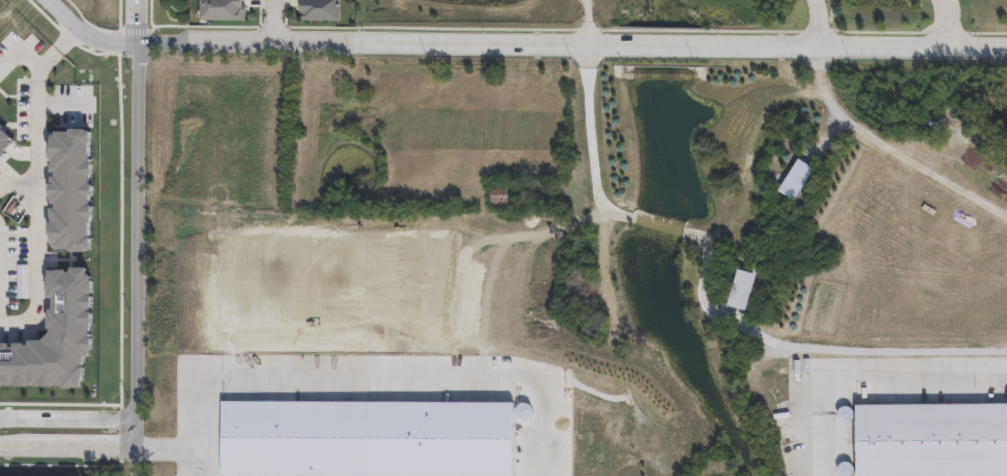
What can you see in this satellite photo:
building: (320, 11)
building: (221, 12)
road: (136, 20)
road: (272, 20)
road: (817, 22)
road: (947, 23)
road: (83, 33)
road: (65, 38)
road: (571, 43)
road: (19, 51)
road: (47, 57)
building: (4, 142)
road: (888, 149)
road: (592, 180)
road: (17, 186)
building: (67, 191)
building: (499, 195)
road: (35, 207)
road: (134, 258)
building: (69, 307)
road: (240, 377)
road: (489, 378)
road: (861, 382)
road: (59, 404)
road: (66, 418)
building: (330, 437)
building: (931, 440)
road: (66, 447)
road: (179, 448)
road: (59, 464)

